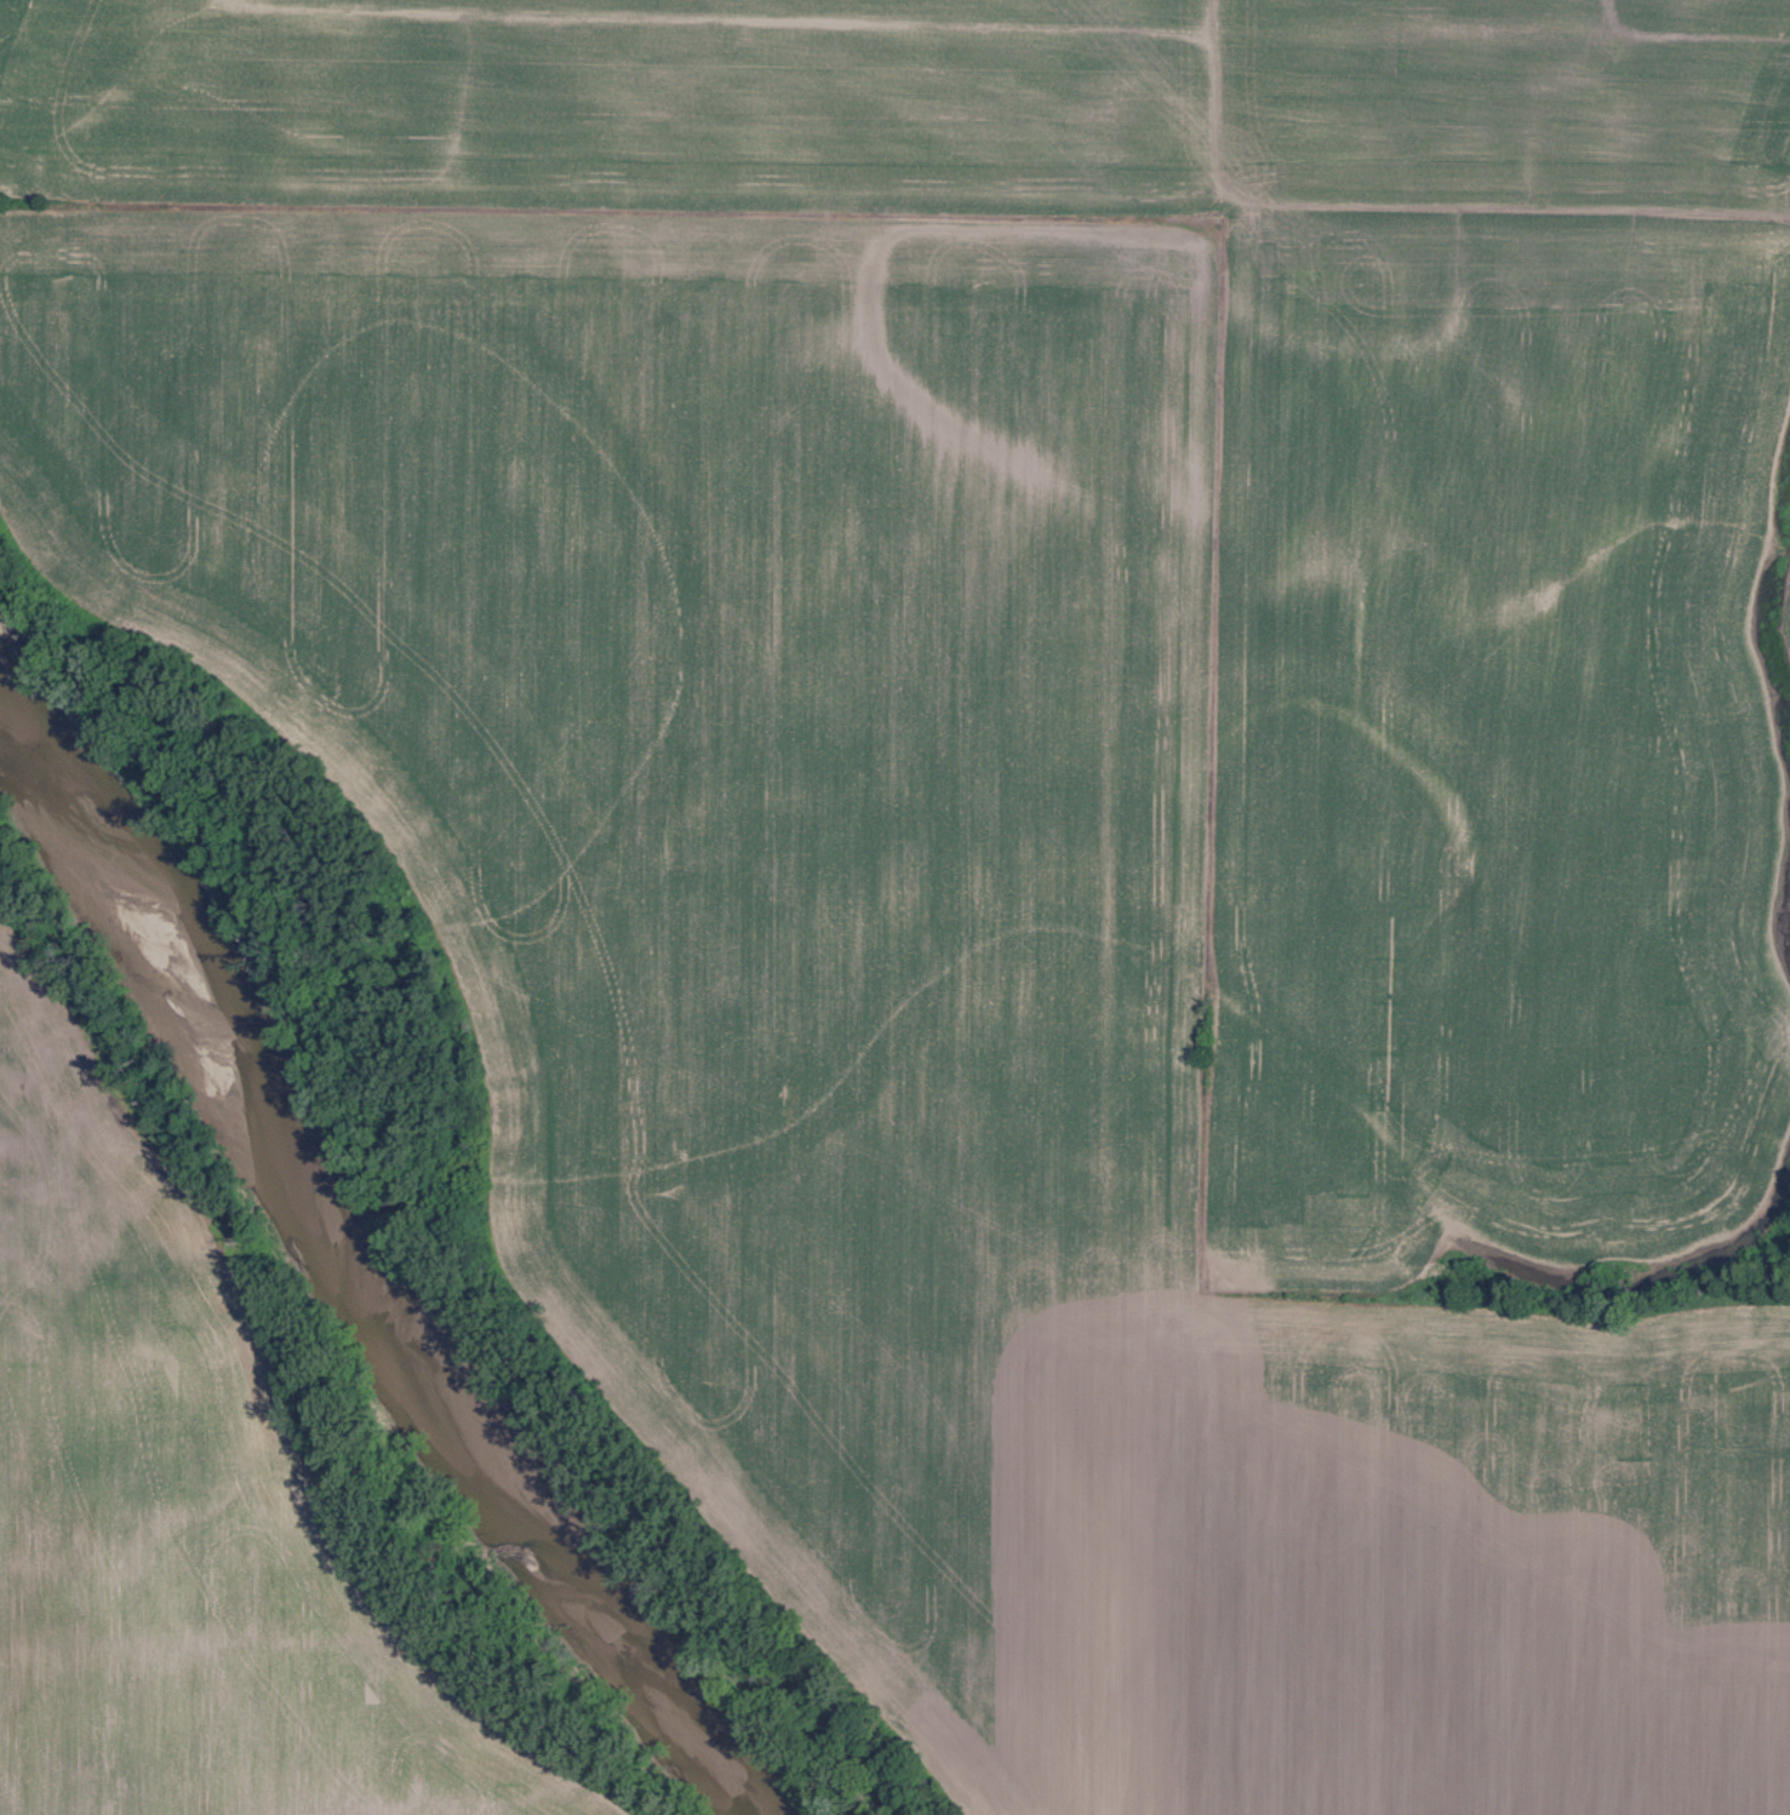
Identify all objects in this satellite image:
river: (358, 1286)

